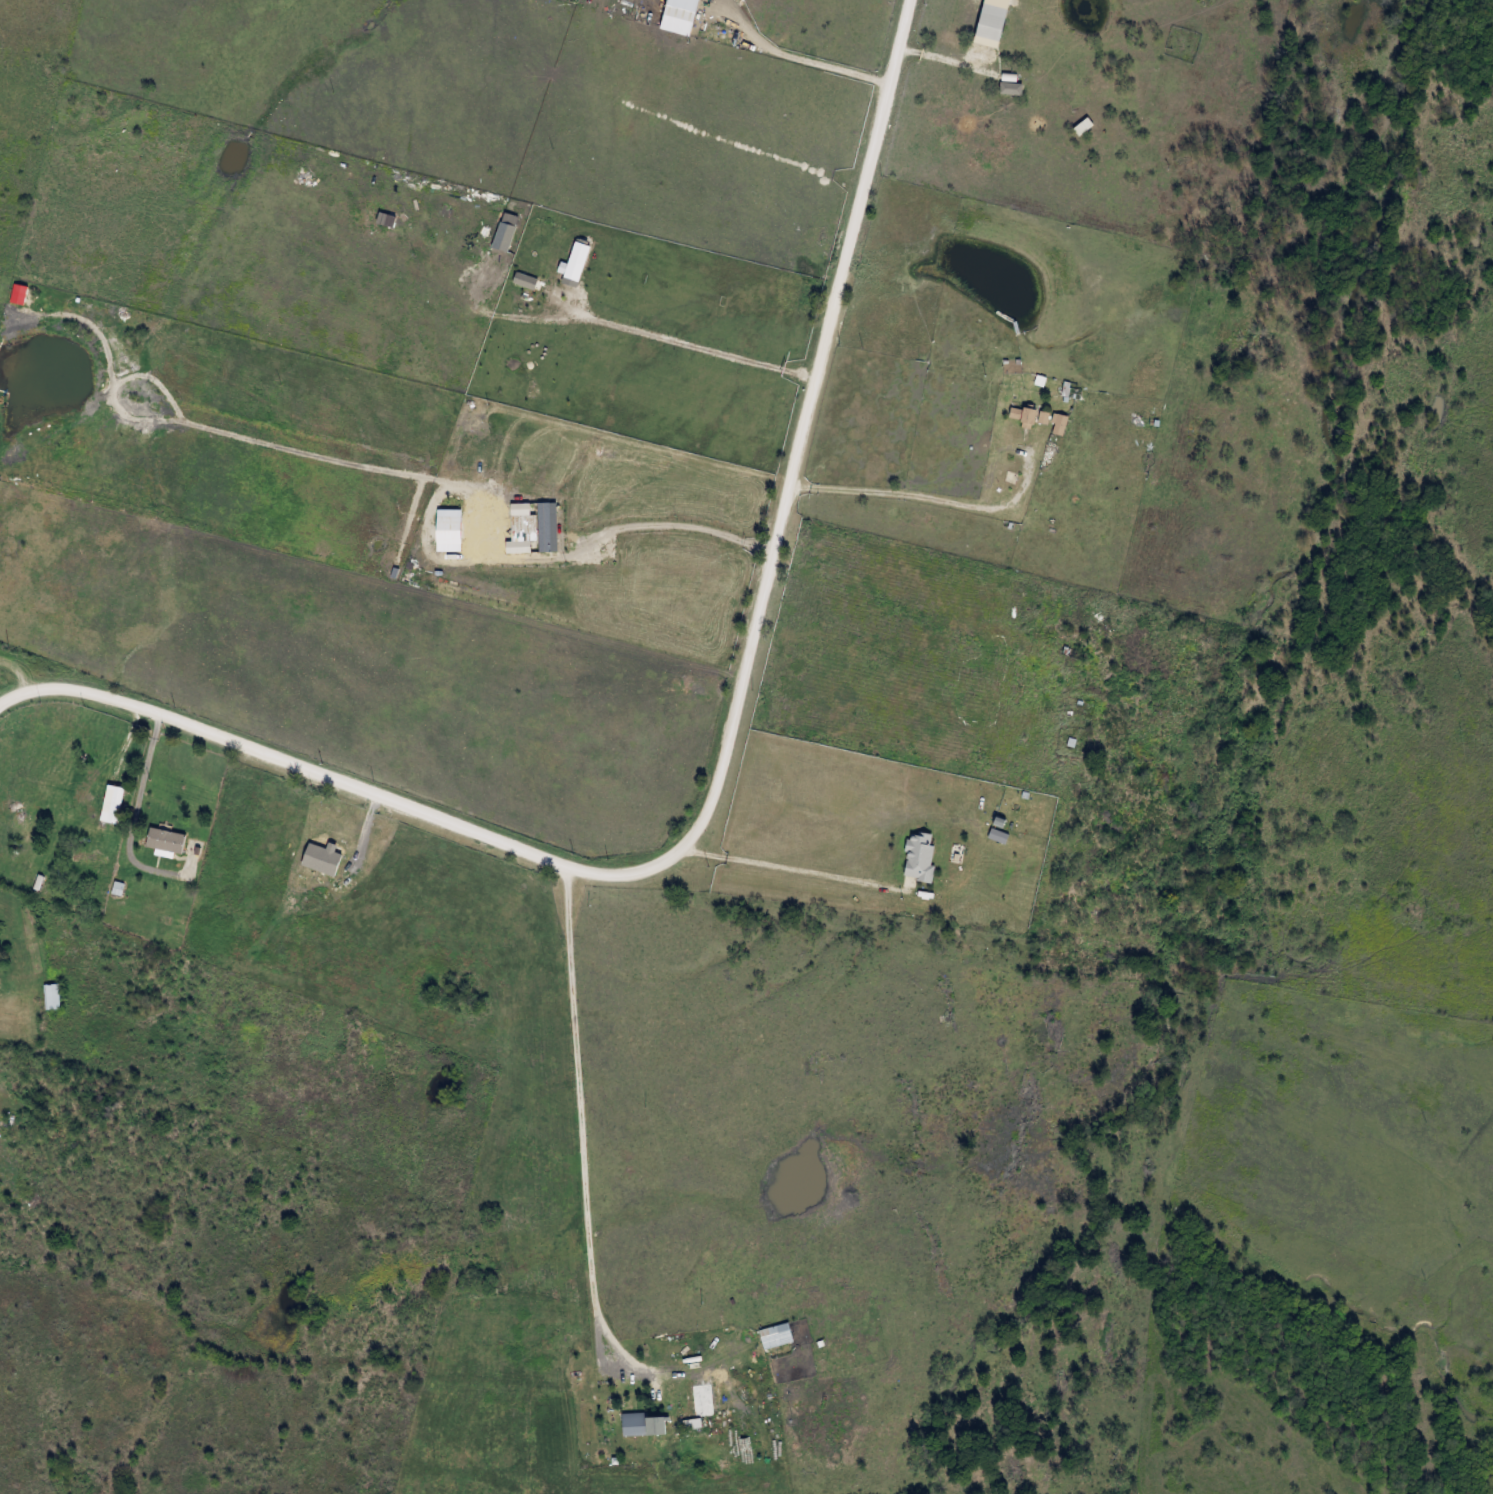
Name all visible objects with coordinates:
building: (995, 24)
road: (801, 59)
road: (938, 60)
building: (1014, 90)
road: (685, 350)
building: (1028, 415)
building: (1156, 418)
building: (1058, 424)
road: (924, 494)
road: (686, 531)
road: (5, 631)
road: (18, 672)
road: (128, 745)
road: (715, 779)
building: (113, 805)
road: (134, 812)
building: (22, 823)
building: (166, 840)
building: (920, 857)
road: (782, 875)
building: (427, 979)
building: (54, 998)
road: (580, 1128)
building: (776, 1336)
building: (692, 1423)
building: (635, 1424)

